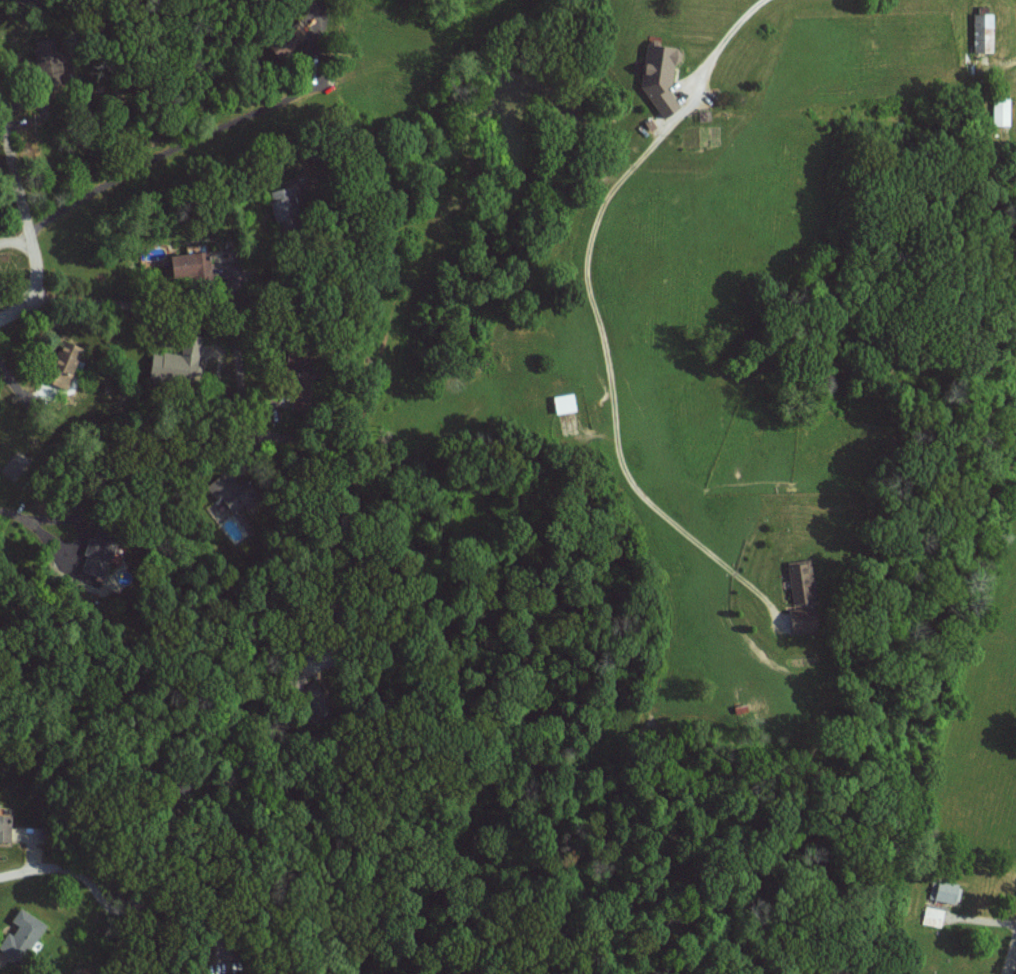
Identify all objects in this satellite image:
building: (984, 32)
building: (662, 77)
building: (998, 112)
road: (21, 196)
road: (14, 241)
building: (197, 266)
road: (15, 309)
road: (594, 317)
building: (178, 361)
building: (70, 364)
road: (240, 388)
building: (566, 403)
building: (803, 581)
building: (805, 619)
building: (5, 828)
road: (81, 877)
building: (945, 891)
building: (933, 916)
building: (23, 935)
road: (1009, 952)

